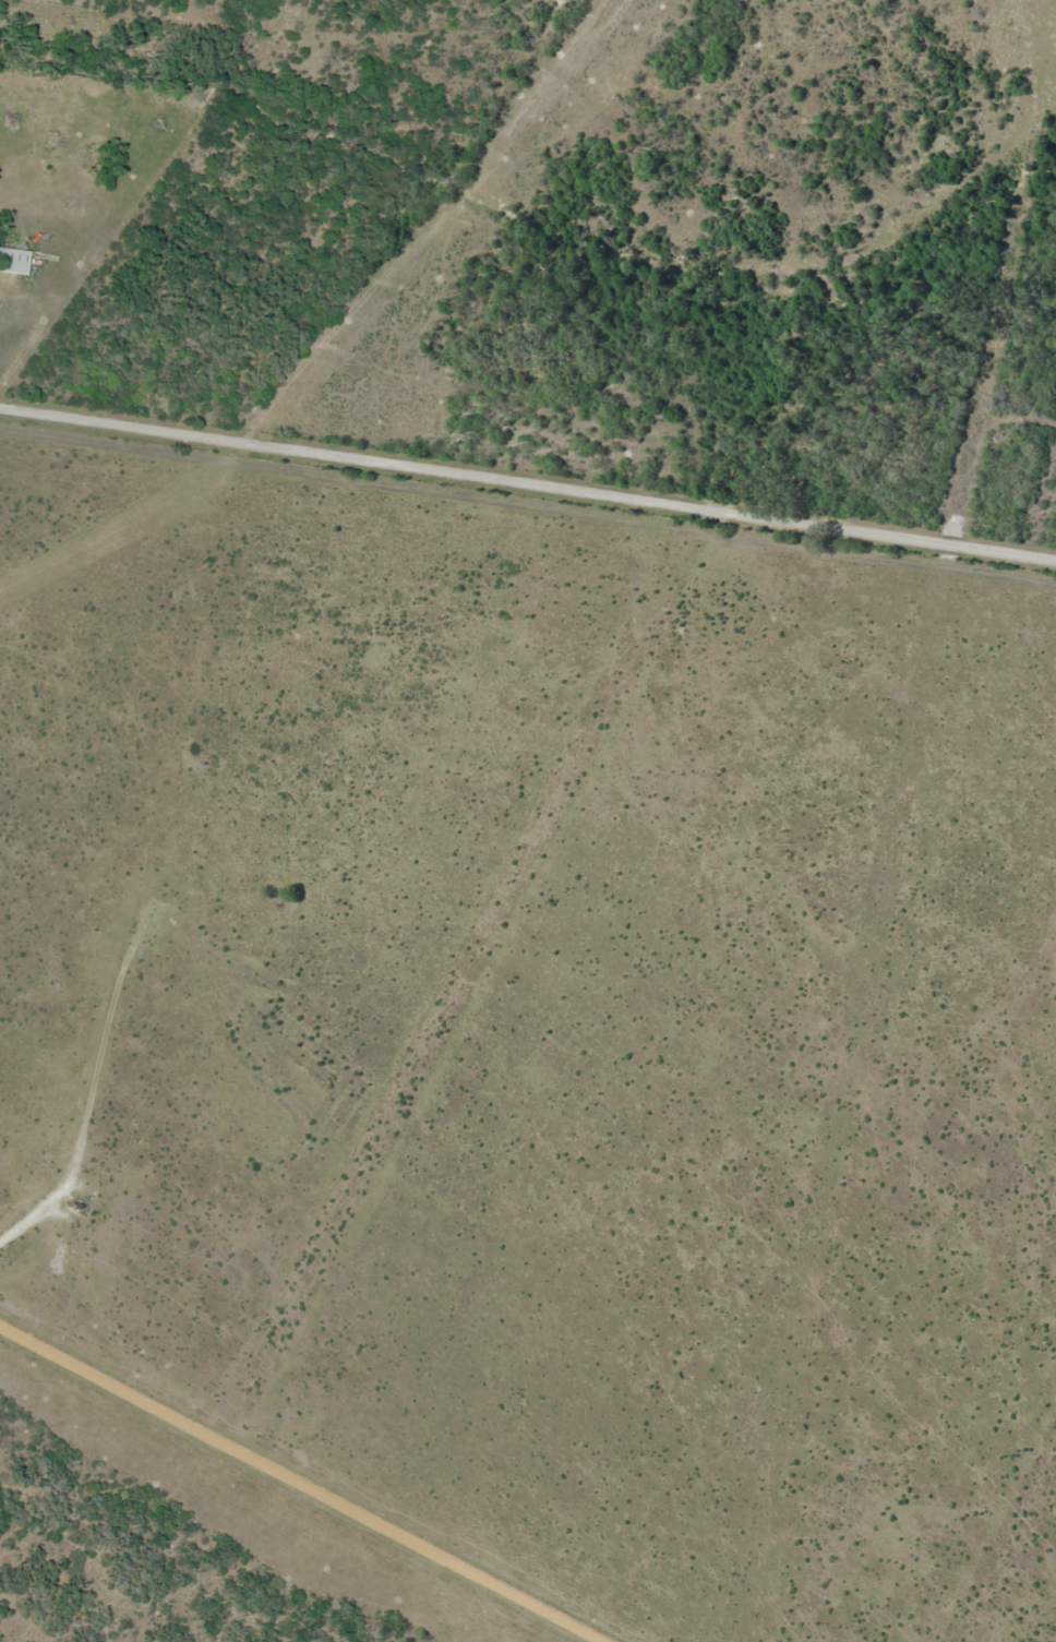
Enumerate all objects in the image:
building: (10, 259)
road: (528, 486)
road: (292, 1491)

